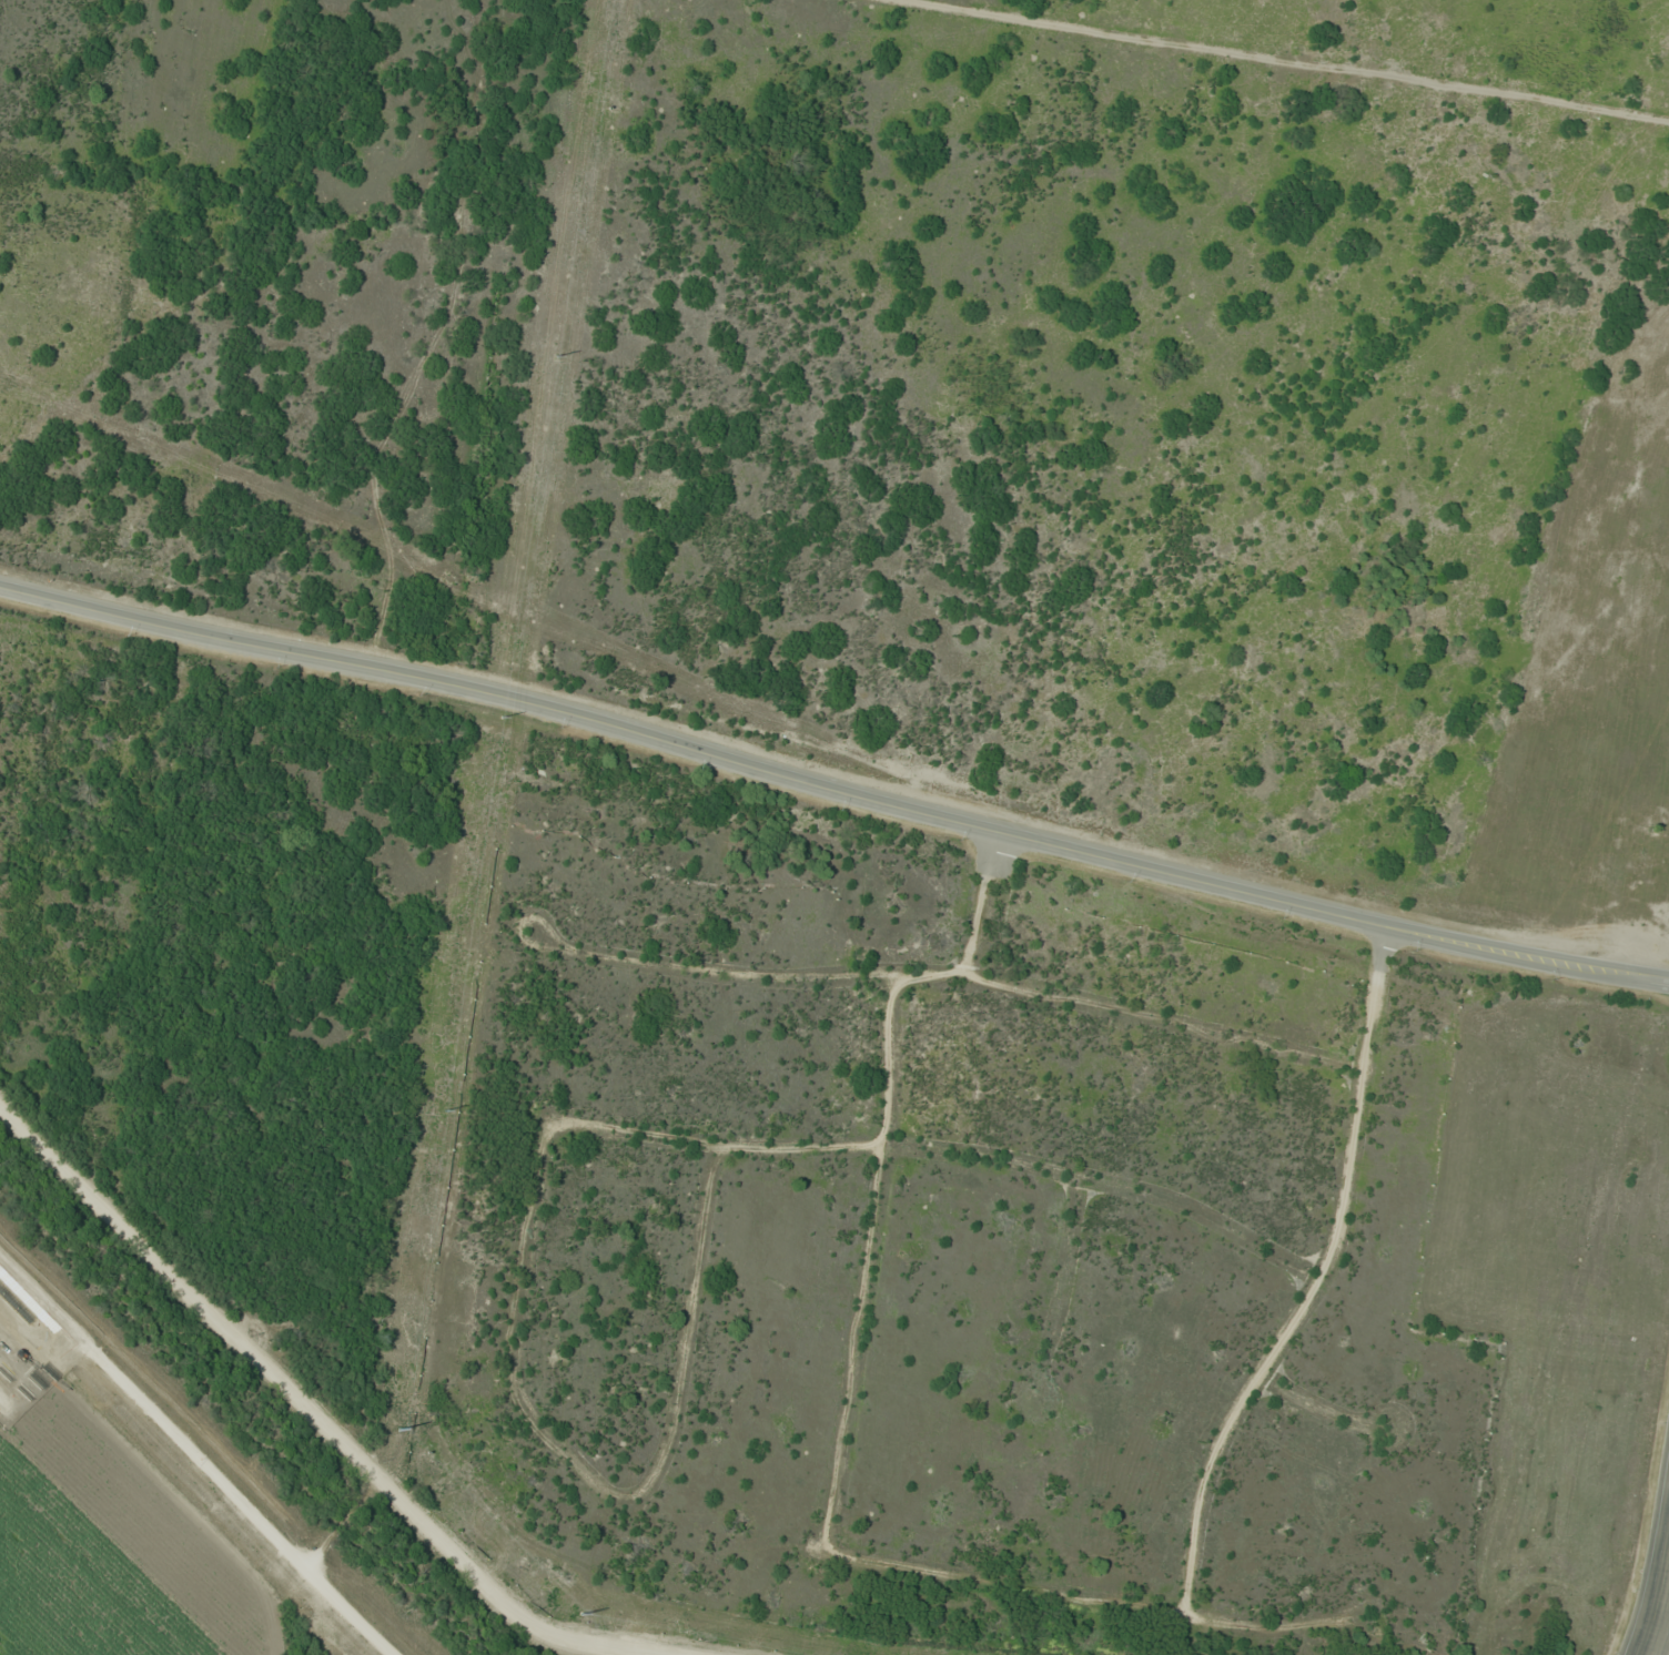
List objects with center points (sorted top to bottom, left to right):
road: (829, 819)
road: (316, 1418)
road: (199, 1454)
road: (341, 1520)
road: (1659, 1618)

